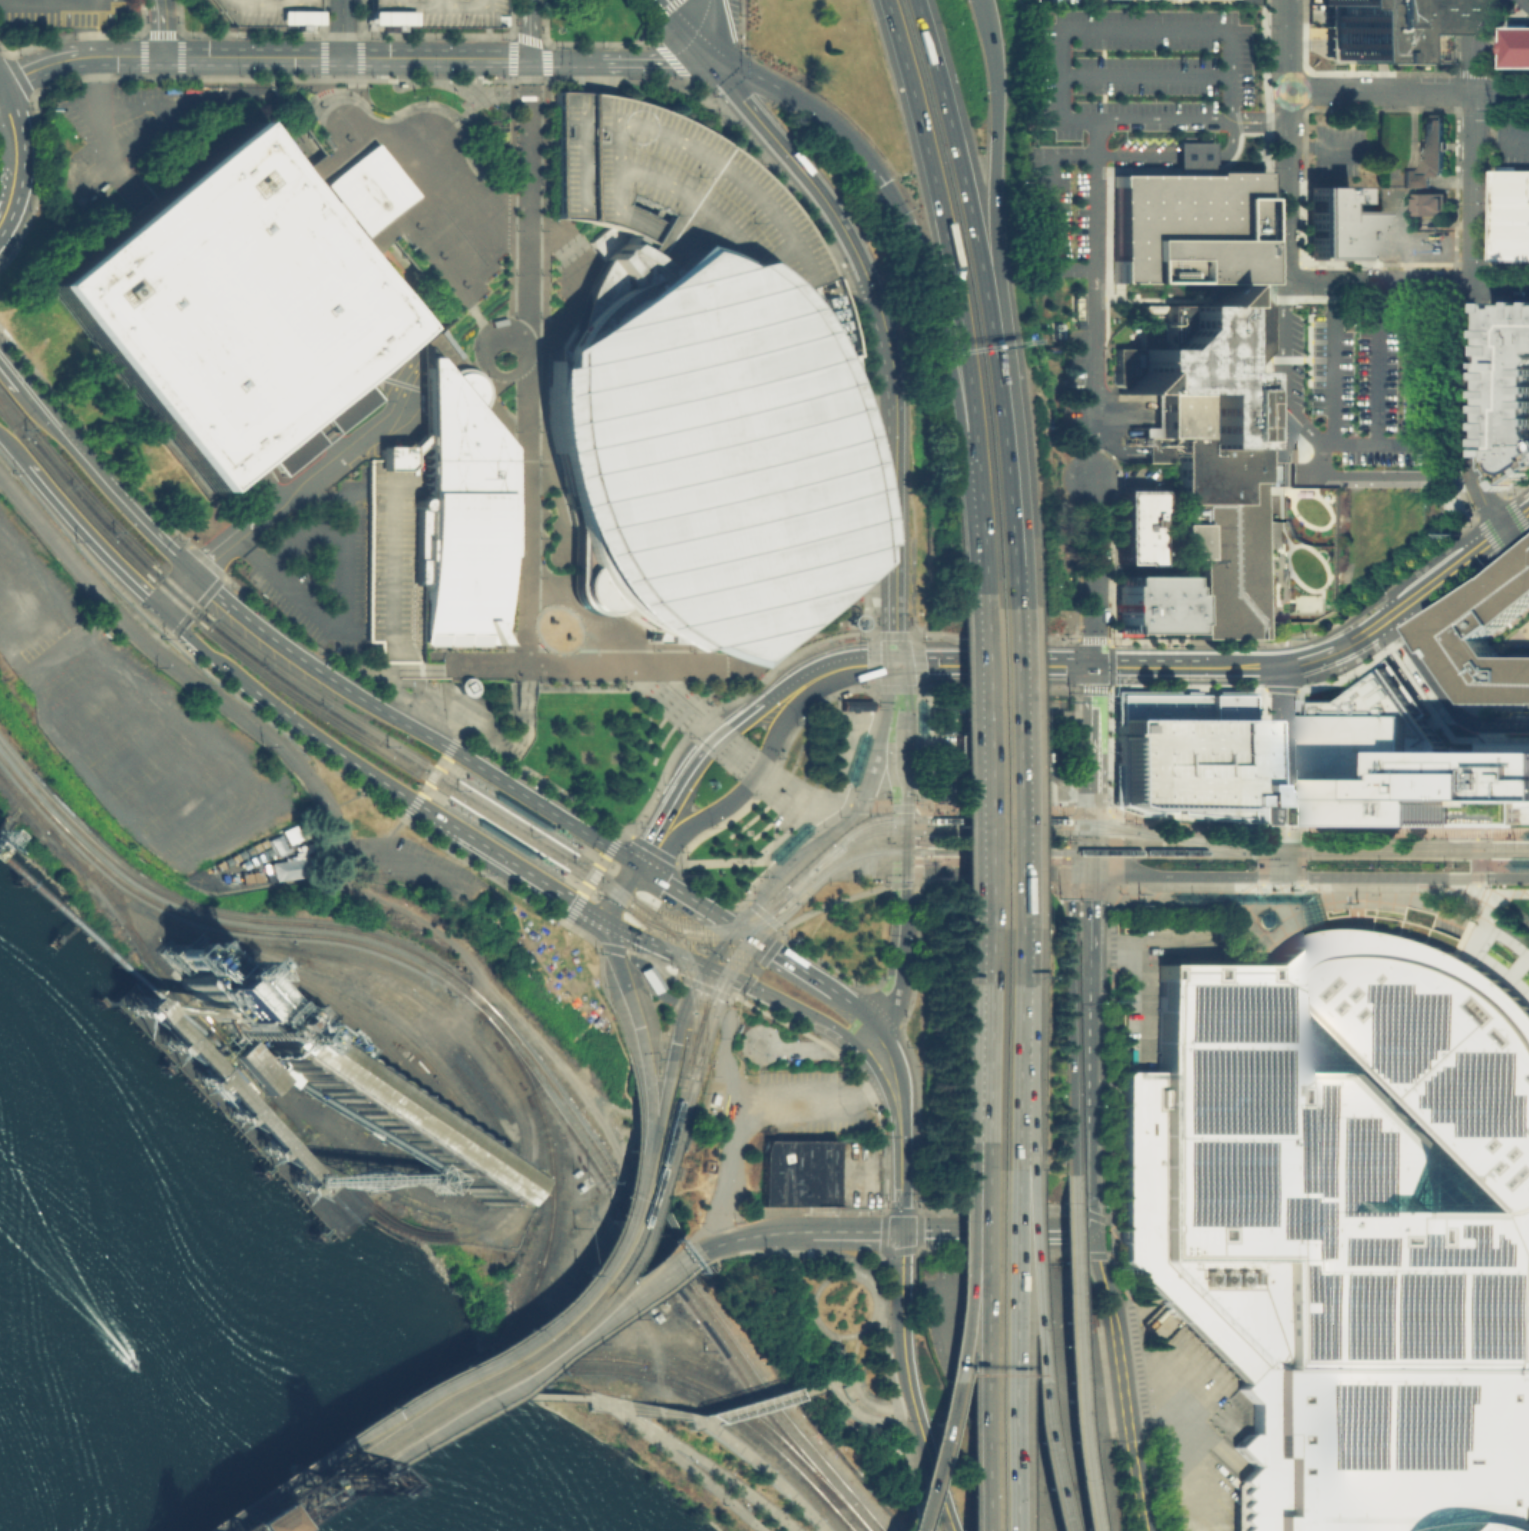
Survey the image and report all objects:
road: (248, 0)
road: (62, 1)
road: (262, 1)
road: (435, 1)
road: (51, 2)
parking lot: (1065, 2)
road: (433, 3)
road: (1525, 3)
parking lot: (1515, 6)
building: (267, 11)
parking lot: (267, 11)
parking lot: (59, 12)
building: (433, 13)
parking lot: (433, 13)
road: (161, 27)
road: (342, 28)
road: (1102, 28)
road: (529, 30)
road: (688, 31)
road: (717, 31)
building: (1388, 32)
building: (1519, 48)
road: (261, 56)
traffic signals: (528, 60)
road: (564, 63)
road: (659, 63)
traffic signals: (717, 63)
road: (360, 67)
road: (511, 67)
road: (323, 69)
road: (1143, 73)
road: (341, 78)
road: (510, 80)
road: (432, 82)
road: (1407, 91)
road: (518, 93)
road: (1229, 96)
parking lot: (1119, 104)
road: (810, 108)
road: (164, 111)
road: (1268, 119)
helipad: (628, 124)
parking lot: (116, 130)
road: (102, 133)
road: (1285, 140)
road: (1474, 140)
road: (1228, 143)
road: (1325, 143)
parking lot: (1510, 144)
building: (1434, 145)
fountain: (291, 149)
parking lot: (1342, 150)
road: (1132, 156)
road: (1191, 157)
road: (10, 158)
road: (960, 167)
road: (994, 167)
road: (803, 172)
building: (1418, 180)
building: (669, 187)
parking lot: (669, 187)
building: (367, 189)
road: (411, 190)
road: (527, 200)
road: (1091, 203)
building: (1433, 204)
road: (1049, 211)
building: (1510, 216)
building: (1186, 222)
building: (1339, 223)
road: (536, 234)
road: (1396, 246)
road: (583, 265)
road: (1406, 265)
road: (1379, 282)
road: (1501, 282)
road: (1399, 296)
road: (956, 300)
building: (226, 310)
stadium: (226, 310)
road: (1351, 310)
road: (939, 322)
road: (1302, 326)
road: (485, 328)
road: (548, 332)
road: (419, 338)
road: (1421, 339)
building: (1197, 361)
road: (1332, 367)
road: (487, 369)
road: (1284, 375)
road: (8, 377)
parking lot: (1074, 380)
road: (397, 382)
parking lot: (1370, 382)
building: (1510, 390)
road: (1473, 410)
railway: (10, 418)
road: (505, 426)
building: (412, 443)
building: (699, 449)
stadium: (699, 449)
road: (11, 452)
road: (1087, 460)
road: (1004, 472)
road: (312, 473)
road: (1386, 474)
road: (896, 476)
road: (100, 485)
road: (1088, 487)
building: (460, 510)
road: (1519, 511)
road: (1515, 515)
building: (1226, 518)
road: (388, 519)
road: (1481, 521)
road: (526, 522)
road: (1517, 522)
building: (1131, 525)
road: (343, 529)
road: (1494, 532)
road: (87, 542)
building: (393, 554)
parking lot: (393, 554)
parking lot: (318, 565)
road: (214, 569)
traffic signals: (193, 575)
road: (343, 580)
road: (202, 582)
road: (1093, 582)
road: (175, 593)
road: (1421, 593)
road: (294, 594)
road: (200, 602)
building: (1150, 603)
traffic signals: (159, 611)
fountain: (558, 628)
road: (302, 638)
building: (1489, 639)
road: (199, 646)
road: (53, 648)
road: (1307, 657)
road: (172, 661)
traffic signals: (896, 663)
road: (1048, 663)
road: (856, 664)
traffic signals: (1094, 664)
road: (608, 665)
road: (1240, 666)
road: (367, 667)
road: (326, 675)
railway: (289, 677)
road: (636, 678)
road: (388, 679)
road: (428, 685)
road: (438, 686)
building: (463, 686)
road: (786, 686)
road: (876, 687)
railway: (287, 688)
road: (845, 690)
road: (683, 693)
road: (1445, 694)
building: (854, 703)
road: (723, 704)
road: (422, 711)
road: (424, 711)
road: (696, 725)
road: (1094, 736)
road: (325, 743)
road: (919, 747)
road: (735, 753)
building: (991, 754)
building: (1186, 754)
railway: (1024, 755)
building: (856, 757)
building: (1404, 765)
road: (889, 766)
road: (977, 767)
railway: (1025, 767)
road: (1014, 768)
road: (1281, 769)
road: (430, 776)
road: (686, 778)
road: (868, 779)
road: (540, 781)
road: (906, 783)
road: (745, 786)
road: (845, 787)
building: (935, 787)
road: (759, 792)
railway: (447, 794)
road: (795, 800)
road: (345, 802)
railway: (1057, 803)
road: (543, 807)
road: (992, 807)
road: (1087, 807)
road: (522, 811)
road: (918, 814)
road: (437, 816)
railway: (965, 821)
road: (1183, 826)
railway: (967, 832)
road: (1279, 832)
road: (1373, 833)
railway: (1489, 833)
railway: (1058, 834)
road: (1461, 834)
road: (1502, 834)
road: (385, 835)
railway: (1150, 835)
building: (280, 839)
road: (504, 839)
building: (789, 840)
road: (1092, 840)
road: (991, 841)
railway: (582, 842)
railway: (65, 845)
road: (1065, 845)
railway: (1203, 845)
railway: (1346, 845)
road: (609, 849)
railway: (1054, 852)
road: (1261, 852)
railway: (923, 853)
road: (1300, 854)
road: (272, 855)
road: (1476, 858)
road: (404, 859)
road: (990, 860)
parking lot: (265, 861)
road: (722, 862)
road: (1087, 862)
railway: (1489, 863)
road: (1502, 865)
building: (283, 867)
traffic signals: (638, 867)
parking lot: (411, 868)
road: (876, 869)
traffic signals: (895, 869)
traffic signals: (906, 869)
road: (477, 870)
road: (999, 870)
traffic signals: (1082, 872)
road: (1110, 872)
traffic signals: (1093, 873)
road: (1186, 874)
traffic signals: (1281, 875)
road: (1405, 875)
traffic signals: (1464, 876)
road: (535, 877)
road: (755, 879)
road: (991, 880)
road: (708, 887)
road: (677, 890)
road: (621, 893)
building: (1233, 895)
road: (762, 896)
road: (832, 902)
building: (1311, 910)
road: (726, 920)
traffic signals: (612, 924)
railway: (710, 926)
traffic signals: (736, 927)
road: (1496, 929)
road: (636, 936)
railway: (712, 938)
road: (773, 942)
road: (720, 946)
road: (609, 947)
railway: (388, 951)
road: (644, 956)
road: (615, 957)
road: (683, 957)
railway: (730, 958)
road: (784, 959)
road: (889, 959)
railway: (646, 964)
traffic signals: (706, 967)
road: (902, 969)
railway: (696, 971)
road: (599, 972)
railway: (686, 976)
road: (672, 977)
road: (701, 987)
road: (755, 988)
railway: (391, 991)
road: (734, 994)
building: (223, 996)
road: (669, 999)
road: (685, 999)
railway: (360, 1002)
road: (848, 1003)
road: (471, 1005)
solar farm: (1225, 1012)
road: (1013, 1017)
road: (869, 1020)
road: (1068, 1020)
railway: (416, 1021)
road: (825, 1024)
solar farm: (1422, 1028)
railway: (514, 1034)
road: (864, 1034)
road: (849, 1040)
railway: (383, 1042)
road: (804, 1048)
road: (979, 1048)
road: (884, 1050)
road: (1089, 1052)
road: (871, 1059)
road: (646, 1065)
building: (254, 1067)
road: (852, 1070)
railway: (683, 1083)
building: (210, 1084)
railway: (693, 1085)
solar farm: (1224, 1089)
road: (665, 1090)
solar farm: (1489, 1092)
road: (746, 1093)
parking lot: (815, 1106)
building: (389, 1112)
road: (1019, 1137)
road: (1010, 1138)
traffic signals: (648, 1144)
solar farm: (1319, 1146)
road: (901, 1153)
road: (632, 1167)
solar farm: (1384, 1167)
building: (797, 1173)
road: (981, 1180)
solar farm: (1214, 1182)
railway: (400, 1193)
road: (509, 1194)
solar farm: (1311, 1224)
building: (1346, 1224)
railway: (472, 1230)
road: (854, 1231)
traffic signals: (901, 1231)
road: (996, 1231)
road: (752, 1236)
road: (891, 1242)
solar farm: (1479, 1249)
solar farm: (1388, 1250)
road: (604, 1252)
road: (881, 1252)
road: (765, 1253)
road: (849, 1258)
road: (670, 1265)
road: (981, 1266)
railway: (674, 1277)
road: (794, 1278)
road: (865, 1280)
road: (567, 1285)
road: (964, 1285)
road: (633, 1289)
solar farm: (1322, 1314)
solar farm: (1447, 1314)
solar farm: (1507, 1314)
solar farm: (1387, 1315)
road: (813, 1316)
railway: (550, 1328)
road: (577, 1329)
railway: (558, 1333)
road: (1115, 1334)
road: (1007, 1350)
road: (1034, 1350)
park: (825, 1351)
road: (1069, 1351)
road: (840, 1354)
road: (885, 1364)
railway: (467, 1372)
river: (131, 1375)
railway: (473, 1377)
road: (522, 1380)
road: (854, 1381)
road: (908, 1383)
railway: (725, 1396)
road: (421, 1401)
road: (761, 1401)
railway: (713, 1404)
road: (624, 1407)
road: (853, 1412)
road: (628, 1415)
road: (690, 1419)
railway: (431, 1423)
solar farm: (1450, 1423)
solar farm: (1360, 1425)
road: (459, 1430)
road: (437, 1431)
road: (979, 1436)
railway: (370, 1441)
traffic signals: (350, 1448)
road: (930, 1456)
park: (685, 1459)
road: (705, 1460)
road: (757, 1470)
road: (909, 1474)
road: (732, 1482)
road: (1137, 1485)
road: (712, 1487)
road: (260, 1494)
road: (271, 1499)
railway: (278, 1501)
railway: (284, 1504)
railway: (296, 1508)
railway: (299, 1509)
road: (312, 1513)
road: (320, 1516)
road: (320, 1516)
building: (262, 1520)
road: (816, 1526)

